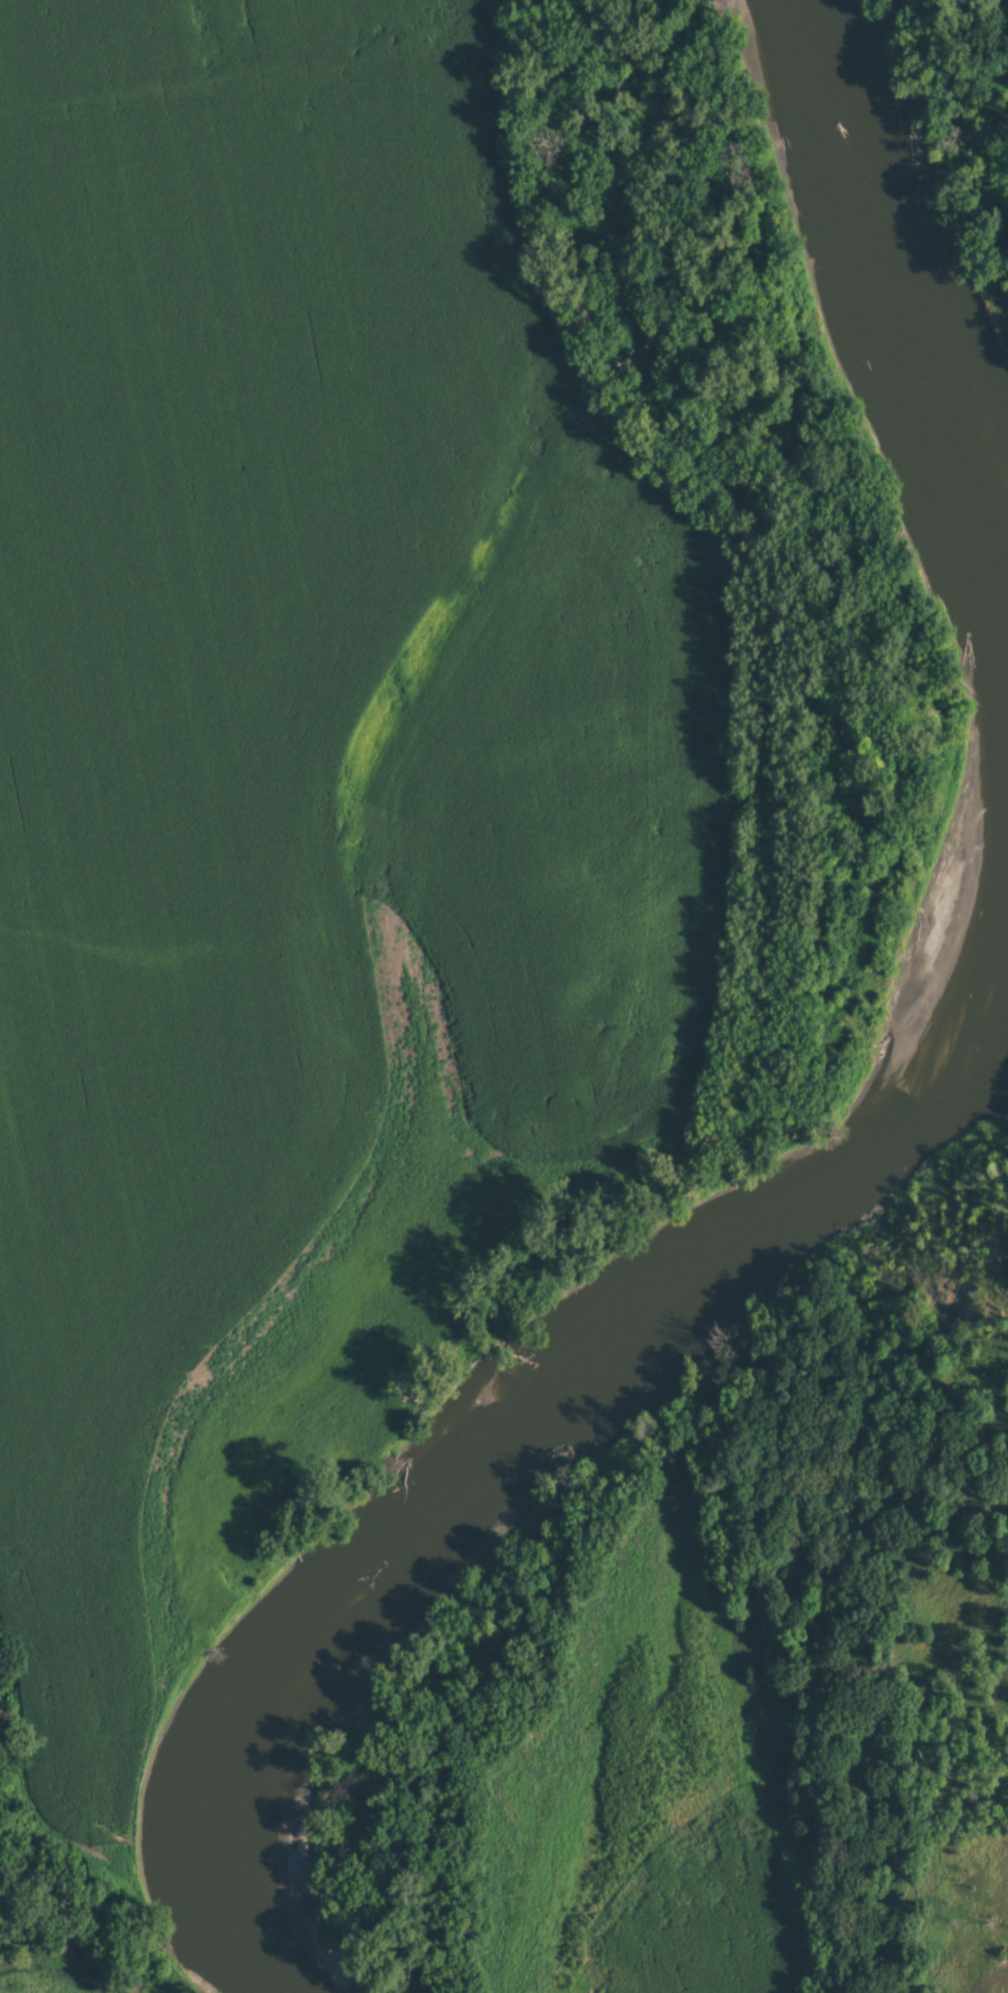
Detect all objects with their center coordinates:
road: (206, 84)
river: (908, 257)
river: (557, 1390)

